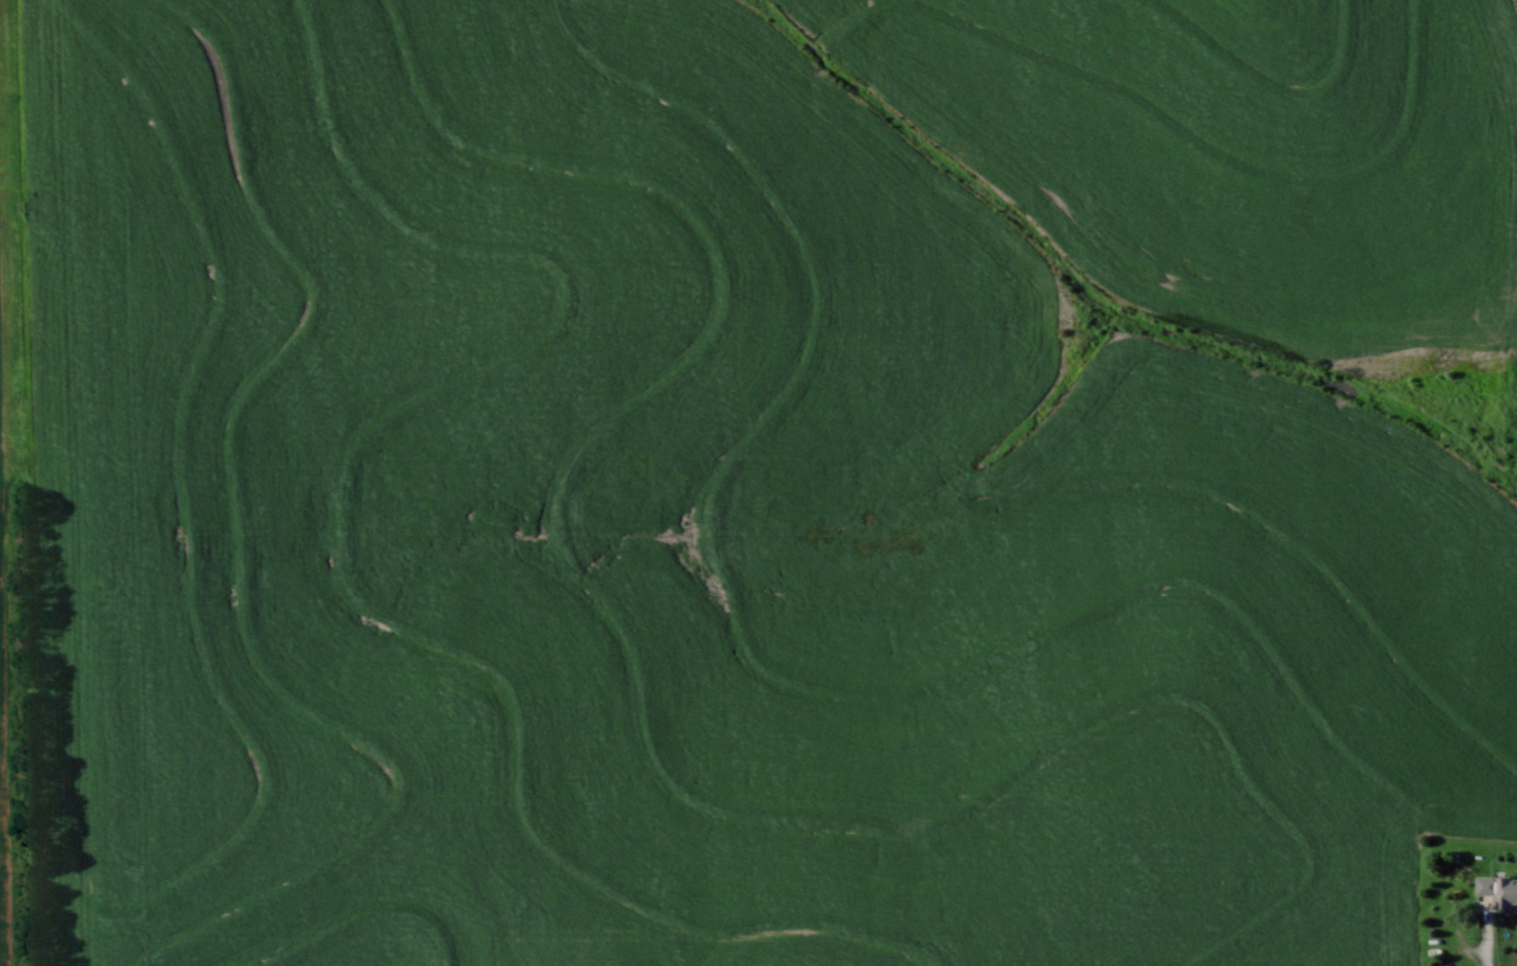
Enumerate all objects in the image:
building: (1499, 891)
road: (1488, 935)

